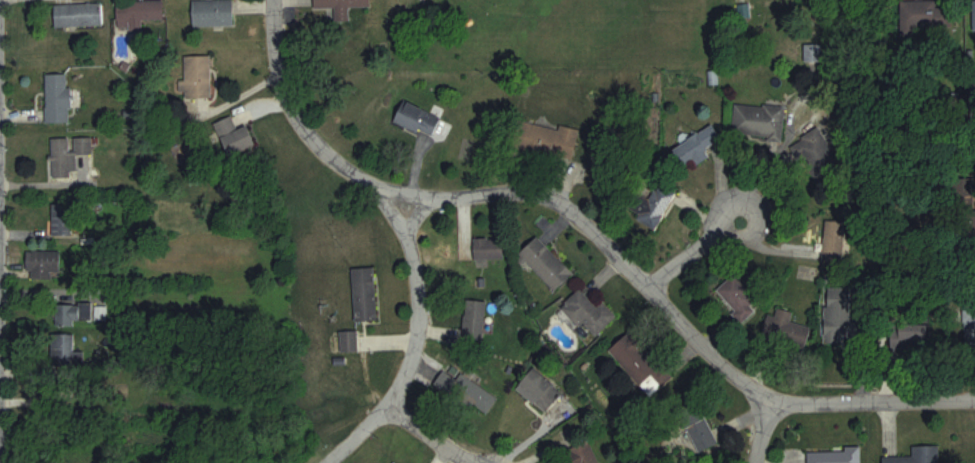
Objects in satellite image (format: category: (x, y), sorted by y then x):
building: (340, 6)
building: (137, 12)
building: (212, 12)
building: (78, 14)
building: (974, 14)
building: (925, 15)
building: (197, 76)
building: (56, 98)
building: (417, 118)
building: (758, 120)
building: (233, 135)
building: (545, 138)
building: (697, 146)
building: (813, 153)
building: (66, 156)
building: (963, 192)
road: (497, 193)
building: (654, 204)
road: (387, 207)
building: (61, 218)
road: (758, 228)
building: (833, 241)
building: (488, 248)
building: (545, 263)
building: (44, 264)
road: (685, 266)
building: (364, 293)
building: (740, 294)
building: (588, 312)
building: (73, 313)
building: (840, 314)
building: (474, 319)
building: (786, 328)
road: (413, 335)
building: (911, 336)
building: (348, 340)
building: (66, 350)
building: (640, 363)
building: (541, 388)
building: (466, 390)
road: (873, 404)
building: (698, 426)
road: (423, 431)
road: (760, 432)
building: (582, 453)
building: (833, 455)
building: (917, 455)
road: (493, 458)

